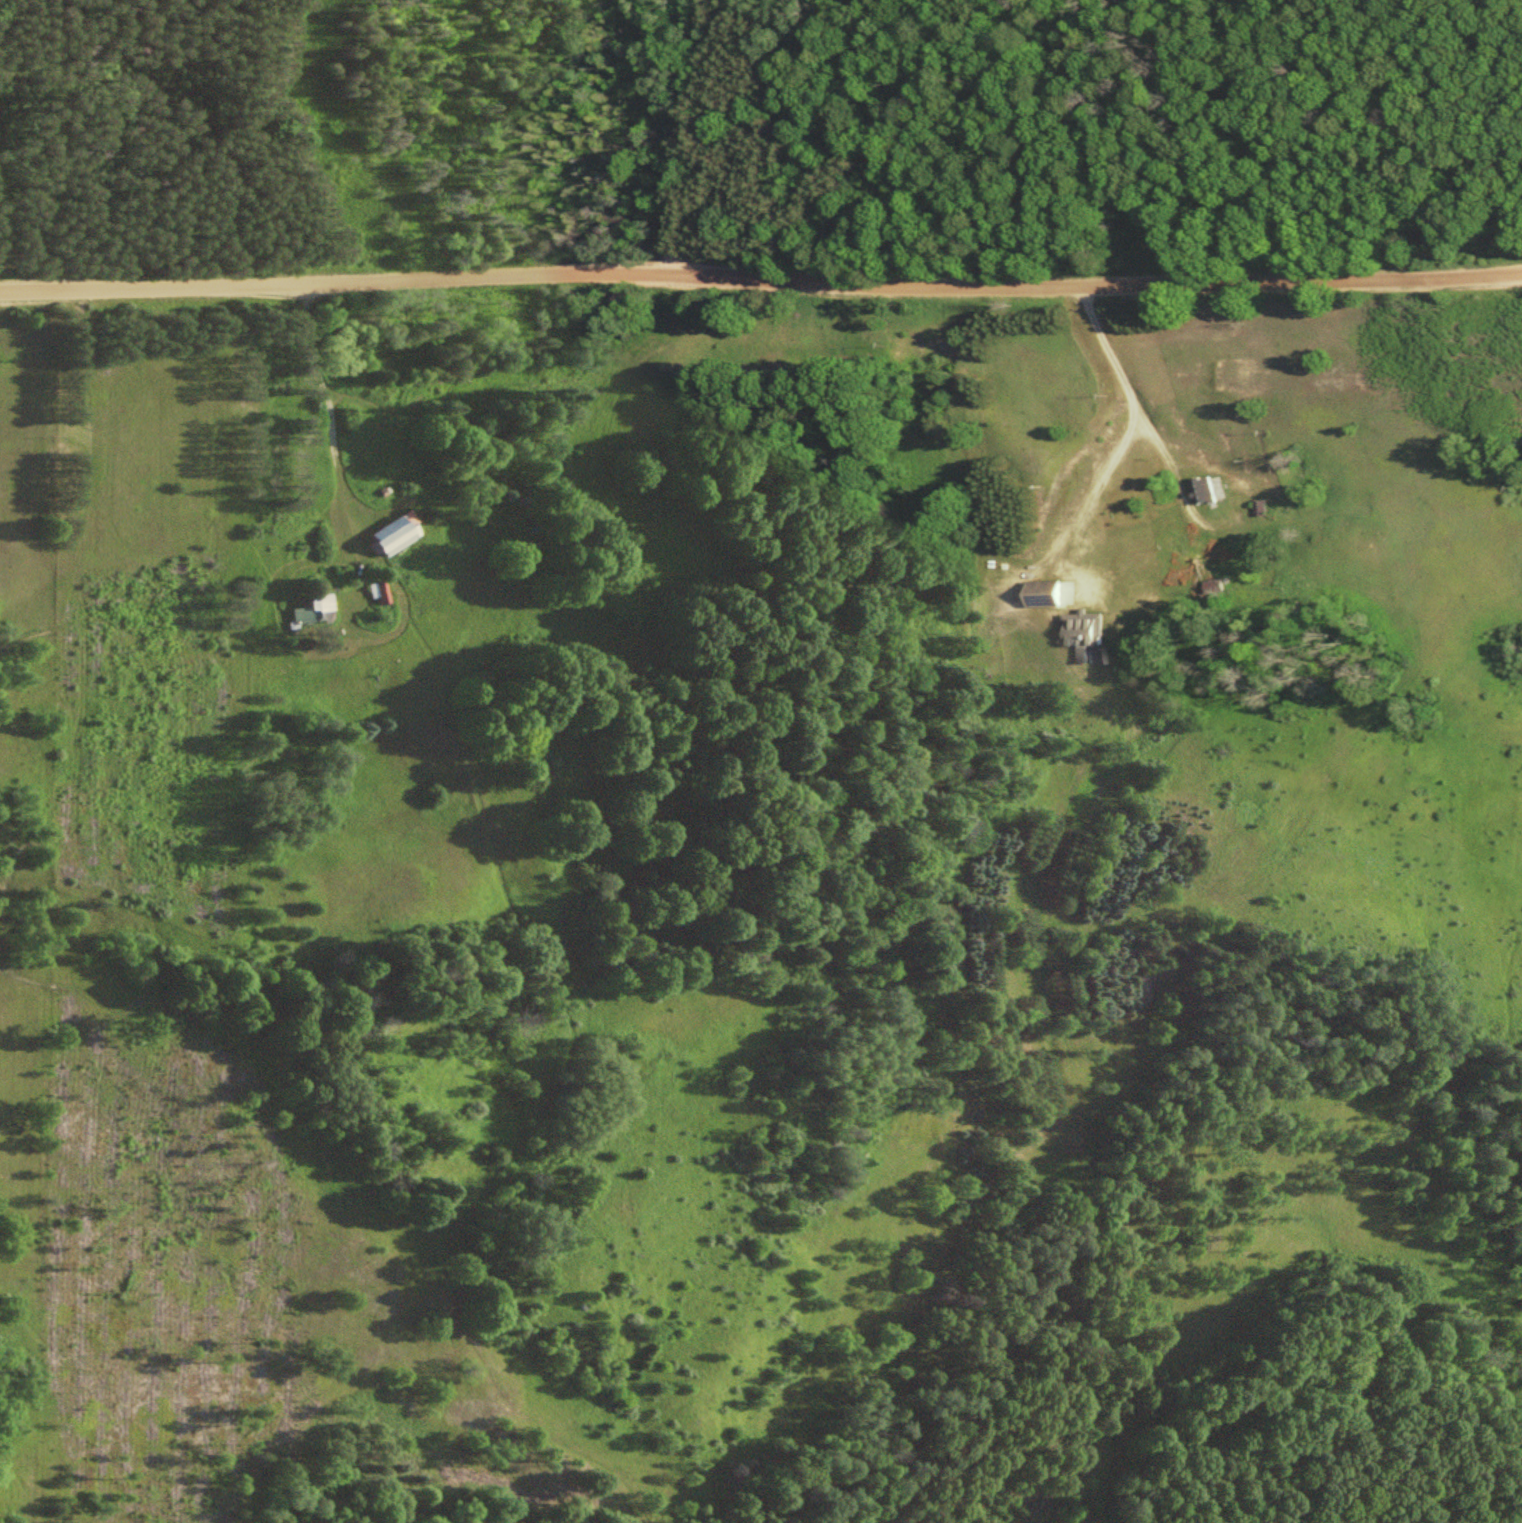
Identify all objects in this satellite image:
road: (679, 131)
road: (955, 284)
road: (194, 286)
road: (1124, 384)
road: (329, 416)
road: (1098, 480)
building: (1203, 488)
building: (394, 533)
building: (1213, 586)
building: (383, 590)
building: (1046, 592)
building: (312, 610)
building: (1090, 631)
road: (1334, 754)

